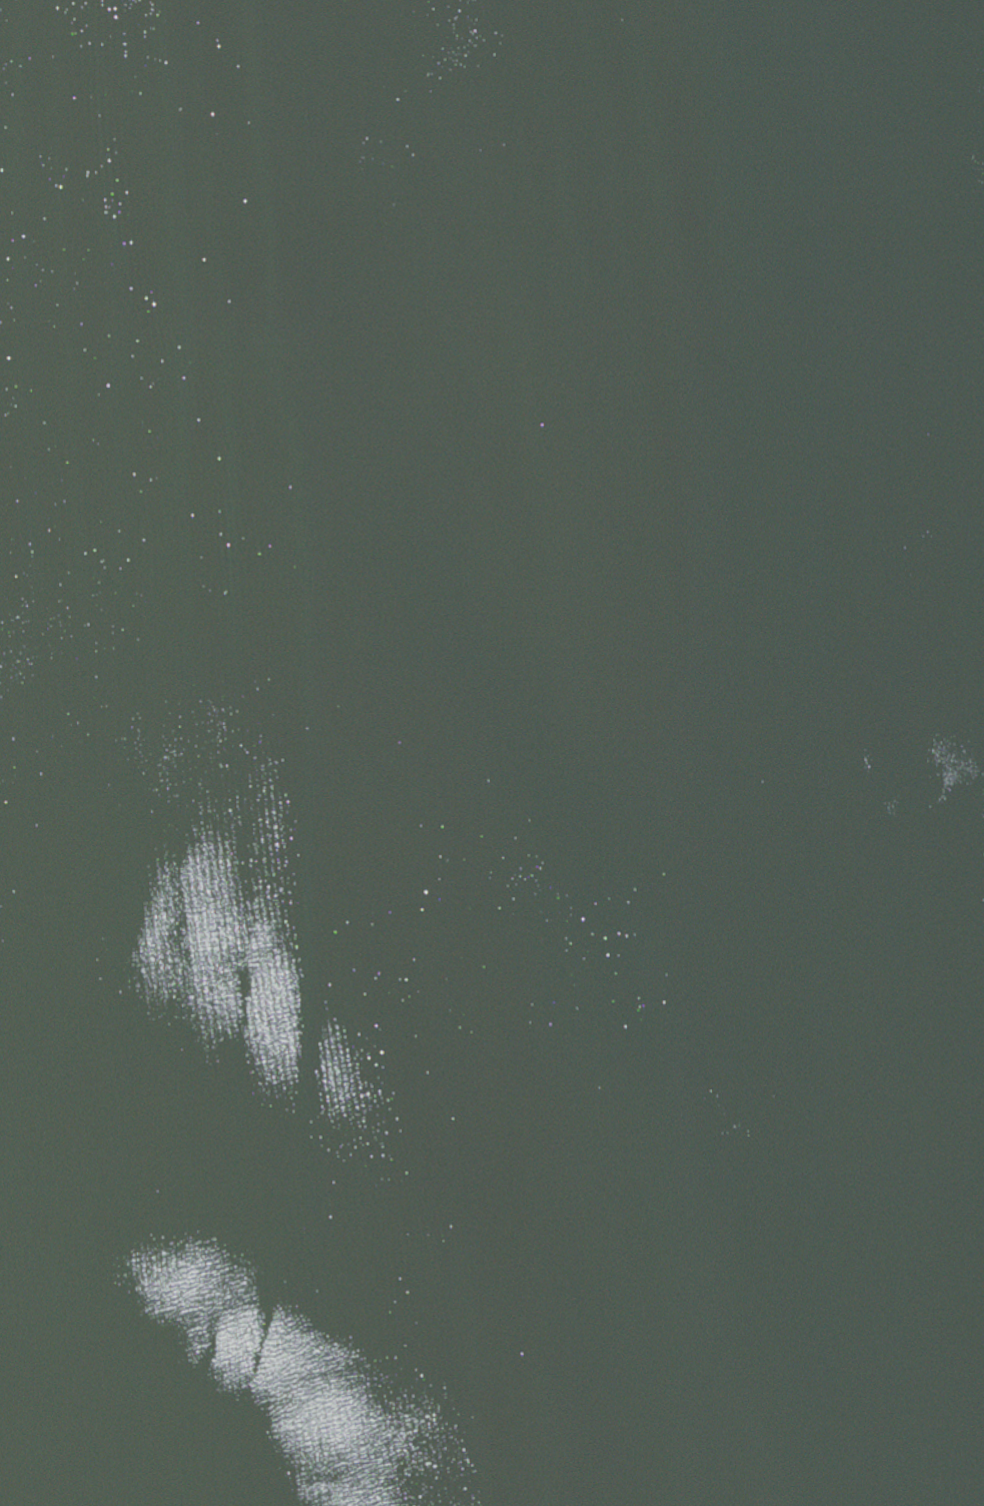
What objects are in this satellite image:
river: (218, 878)

